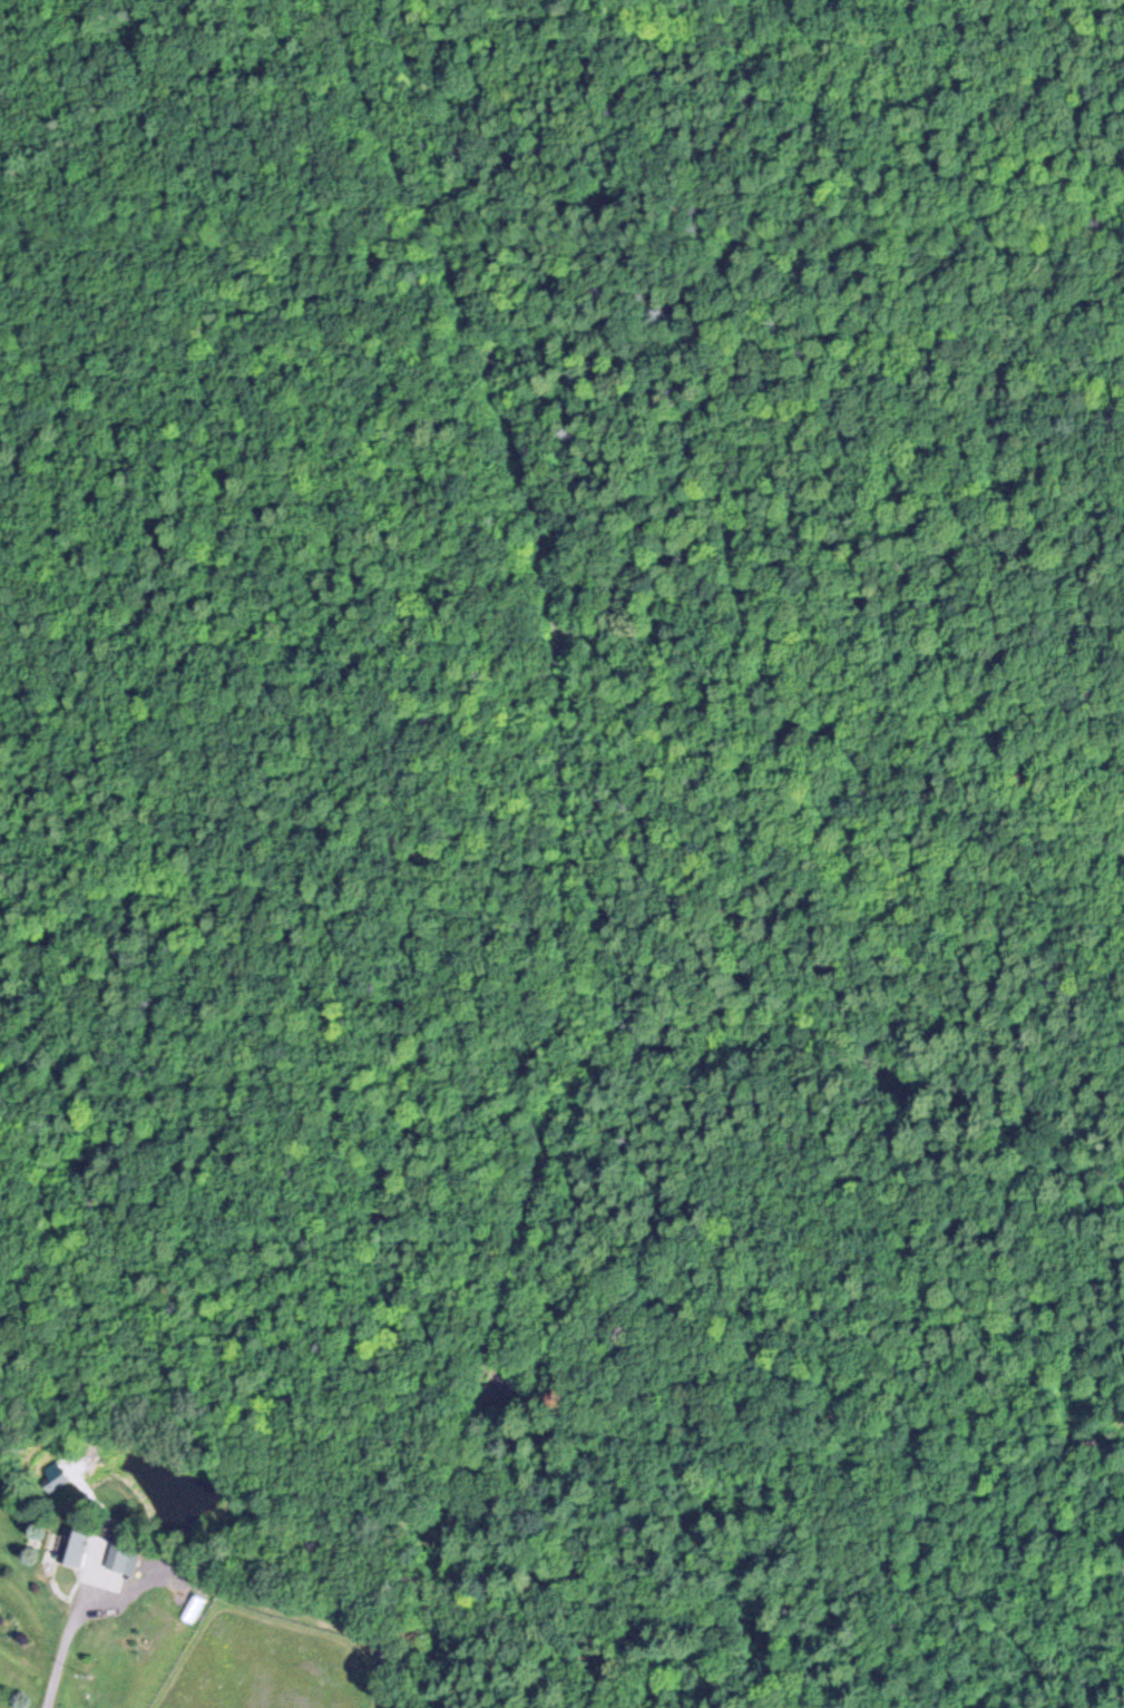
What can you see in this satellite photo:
building: (70, 1542)
building: (118, 1554)
road: (56, 1653)

